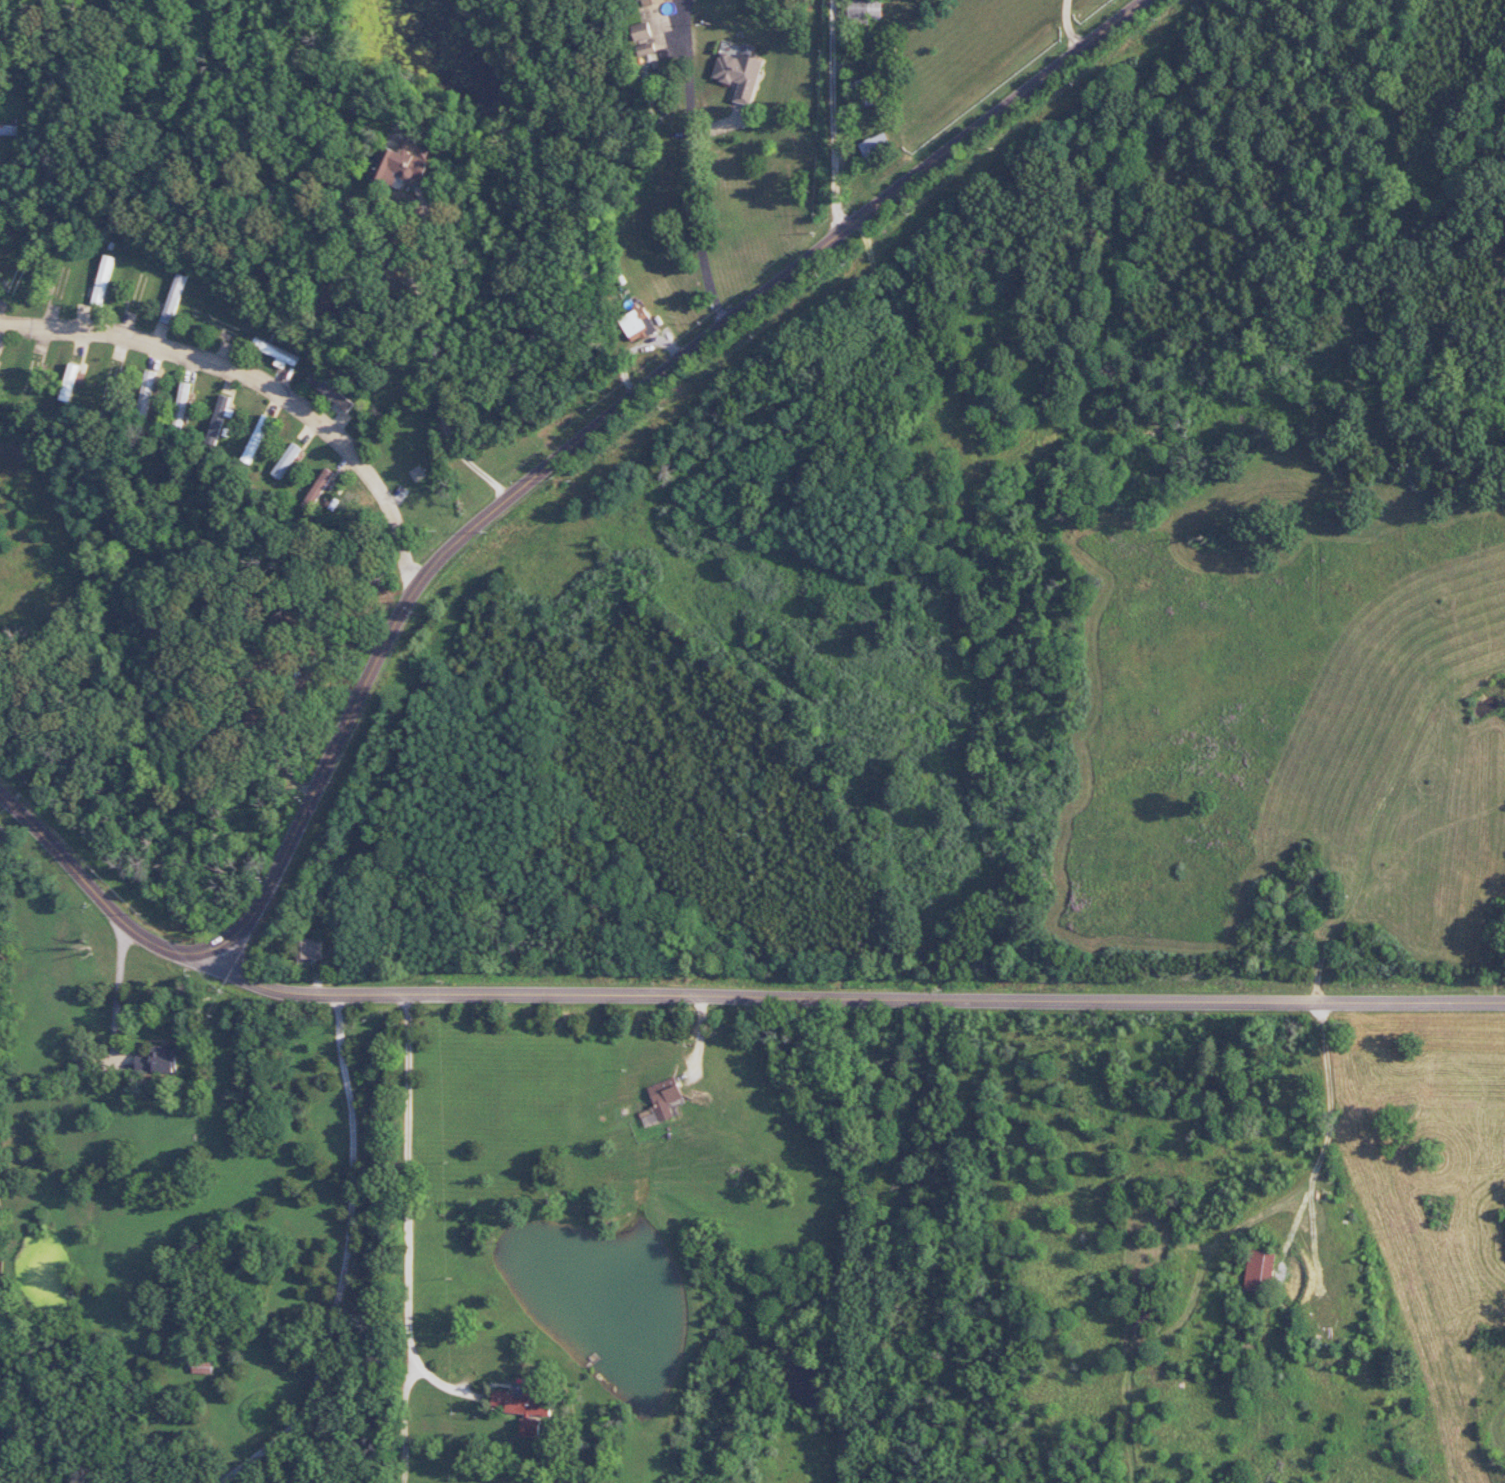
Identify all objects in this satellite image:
building: (652, 2)
building: (864, 10)
road: (1066, 25)
building: (641, 31)
building: (738, 75)
road: (836, 114)
building: (873, 144)
road: (697, 161)
building: (400, 163)
building: (103, 280)
building: (174, 299)
building: (326, 299)
building: (636, 324)
building: (277, 353)
road: (429, 361)
building: (70, 381)
road: (256, 382)
building: (330, 392)
building: (144, 395)
building: (180, 407)
road: (618, 409)
building: (218, 417)
building: (285, 461)
building: (319, 487)
road: (105, 900)
building: (309, 949)
road: (853, 997)
building: (158, 1060)
building: (664, 1097)
road: (1314, 1165)
road: (406, 1213)
road: (344, 1261)
building: (1258, 1269)
building: (523, 1407)
road: (403, 1416)

